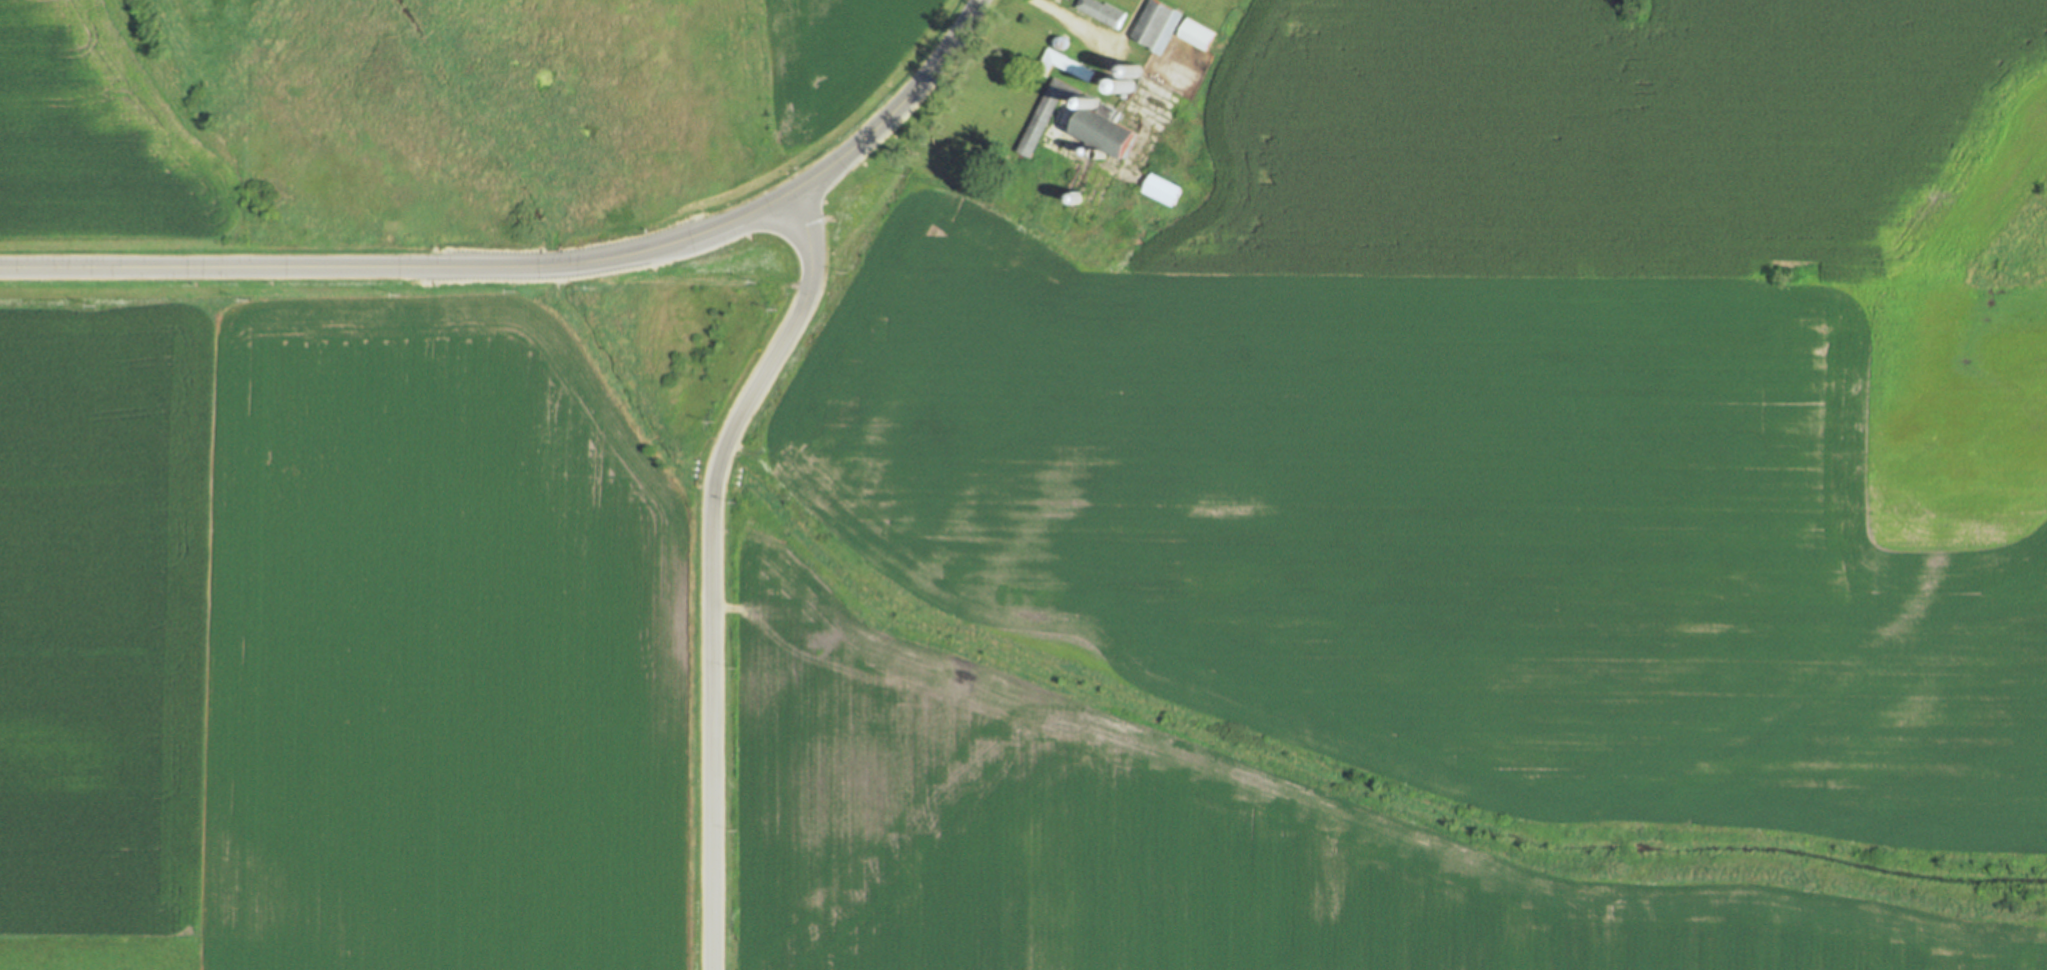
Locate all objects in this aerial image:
building: (1103, 13)
road: (1075, 24)
road: (1129, 24)
building: (1157, 24)
building: (1197, 34)
road: (944, 53)
building: (1065, 64)
building: (1133, 84)
building: (1046, 113)
building: (1108, 132)
road: (851, 148)
building: (1163, 189)
road: (404, 267)
road: (710, 567)

